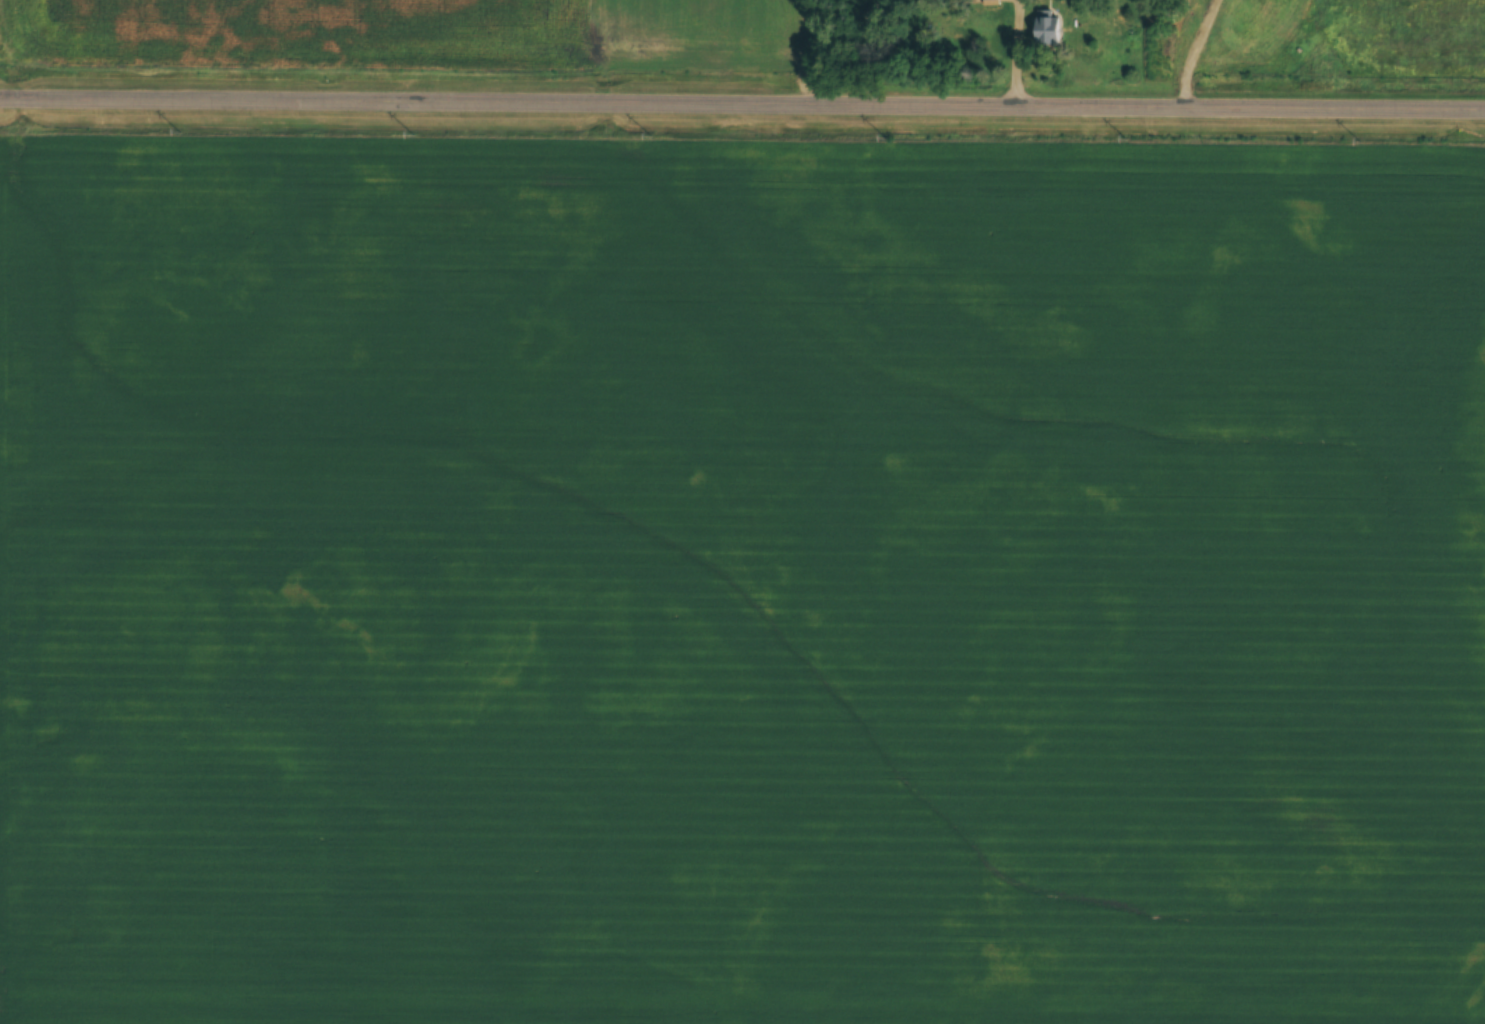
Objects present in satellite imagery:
building: (1052, 28)
road: (742, 109)

